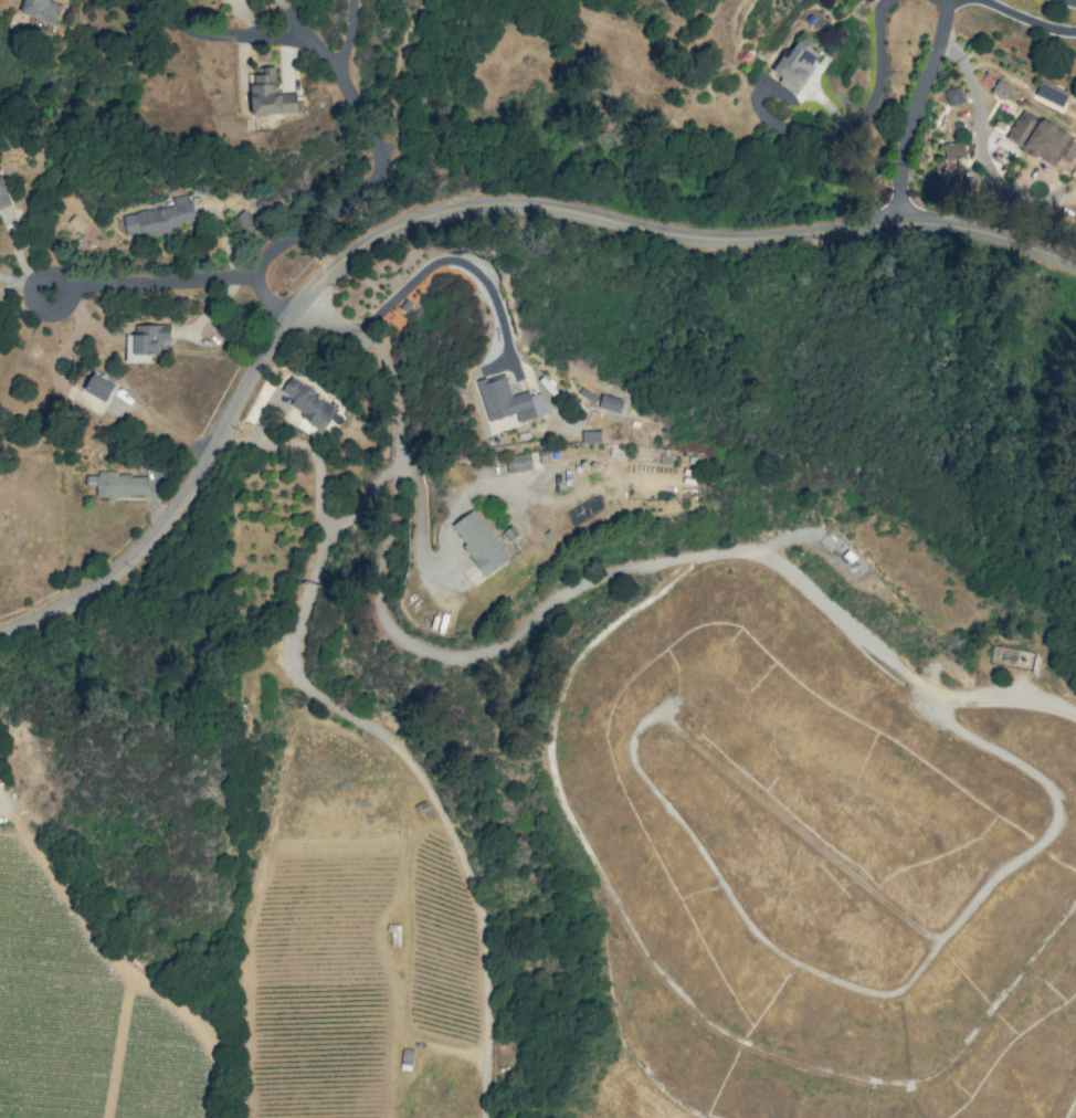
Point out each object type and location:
road: (1069, 1)
building: (41, 9)
road: (289, 20)
road: (1026, 21)
road: (228, 35)
building: (797, 64)
road: (970, 85)
road: (877, 88)
building: (1001, 89)
building: (270, 94)
building: (953, 95)
building: (1052, 95)
road: (918, 110)
building: (1021, 127)
building: (1049, 143)
building: (954, 150)
road: (378, 165)
building: (3, 196)
building: (159, 218)
building: (245, 219)
road: (671, 238)
road: (454, 260)
road: (23, 281)
road: (149, 282)
road: (270, 298)
building: (146, 341)
building: (99, 387)
building: (508, 400)
building: (308, 403)
building: (610, 403)
building: (518, 462)
road: (317, 491)
road: (397, 494)
road: (183, 506)
building: (479, 542)
landfill: (741, 737)
road: (429, 788)
crop: (268, 963)

